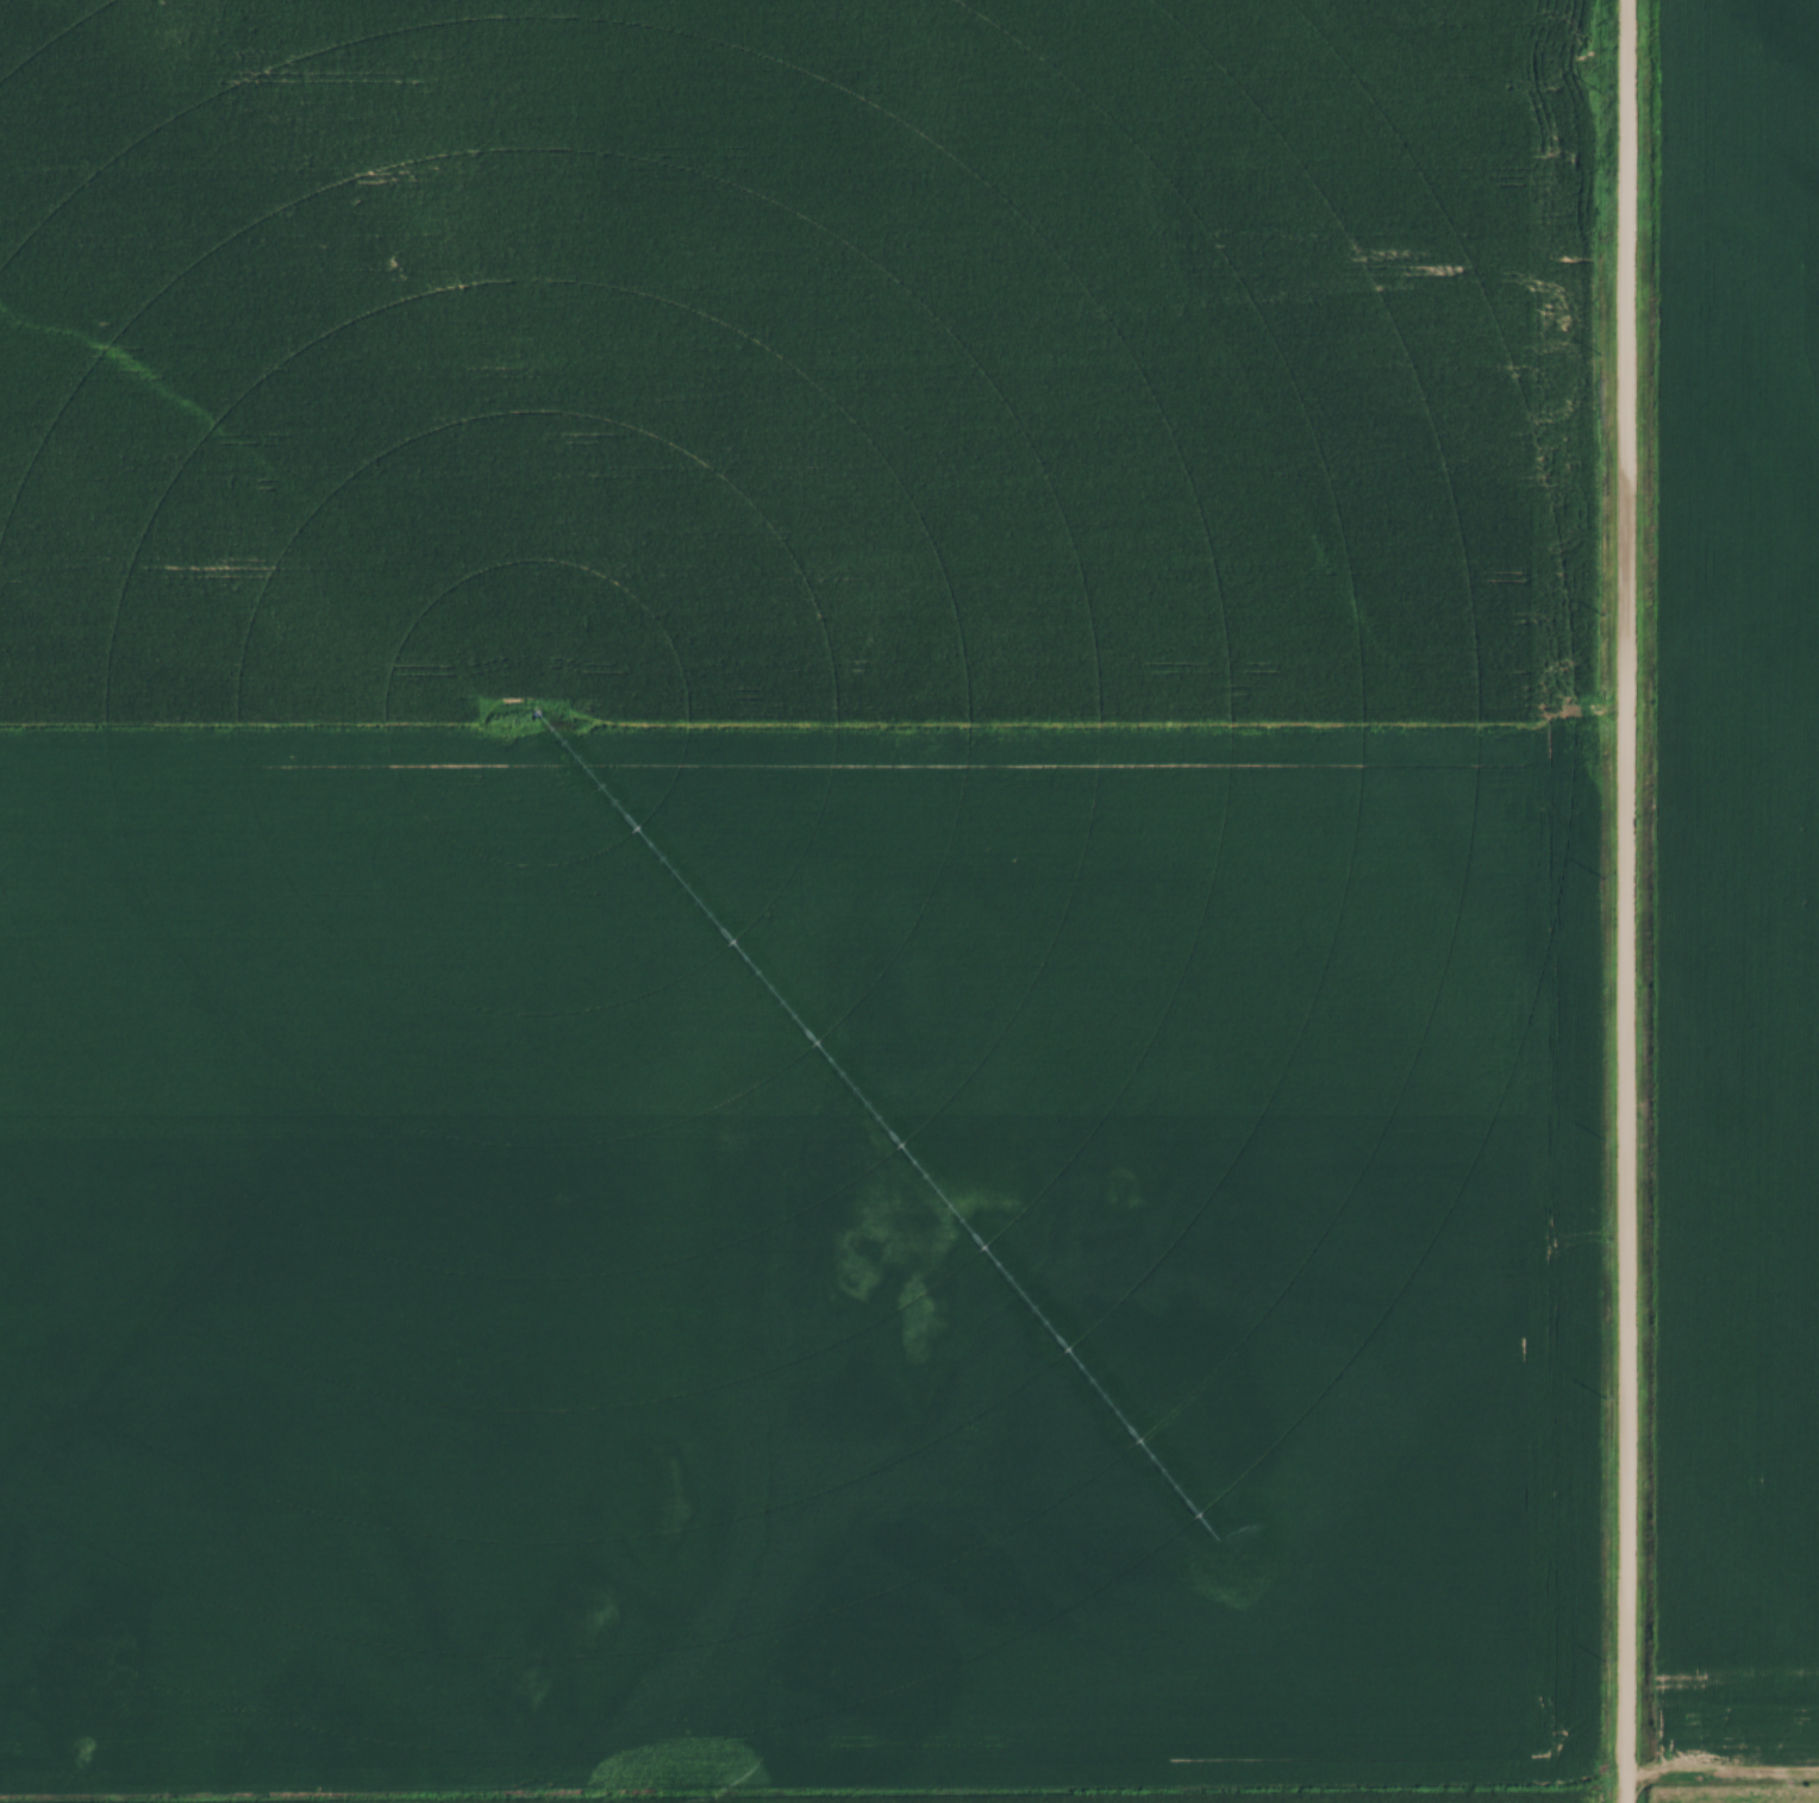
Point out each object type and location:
road: (1626, 901)

